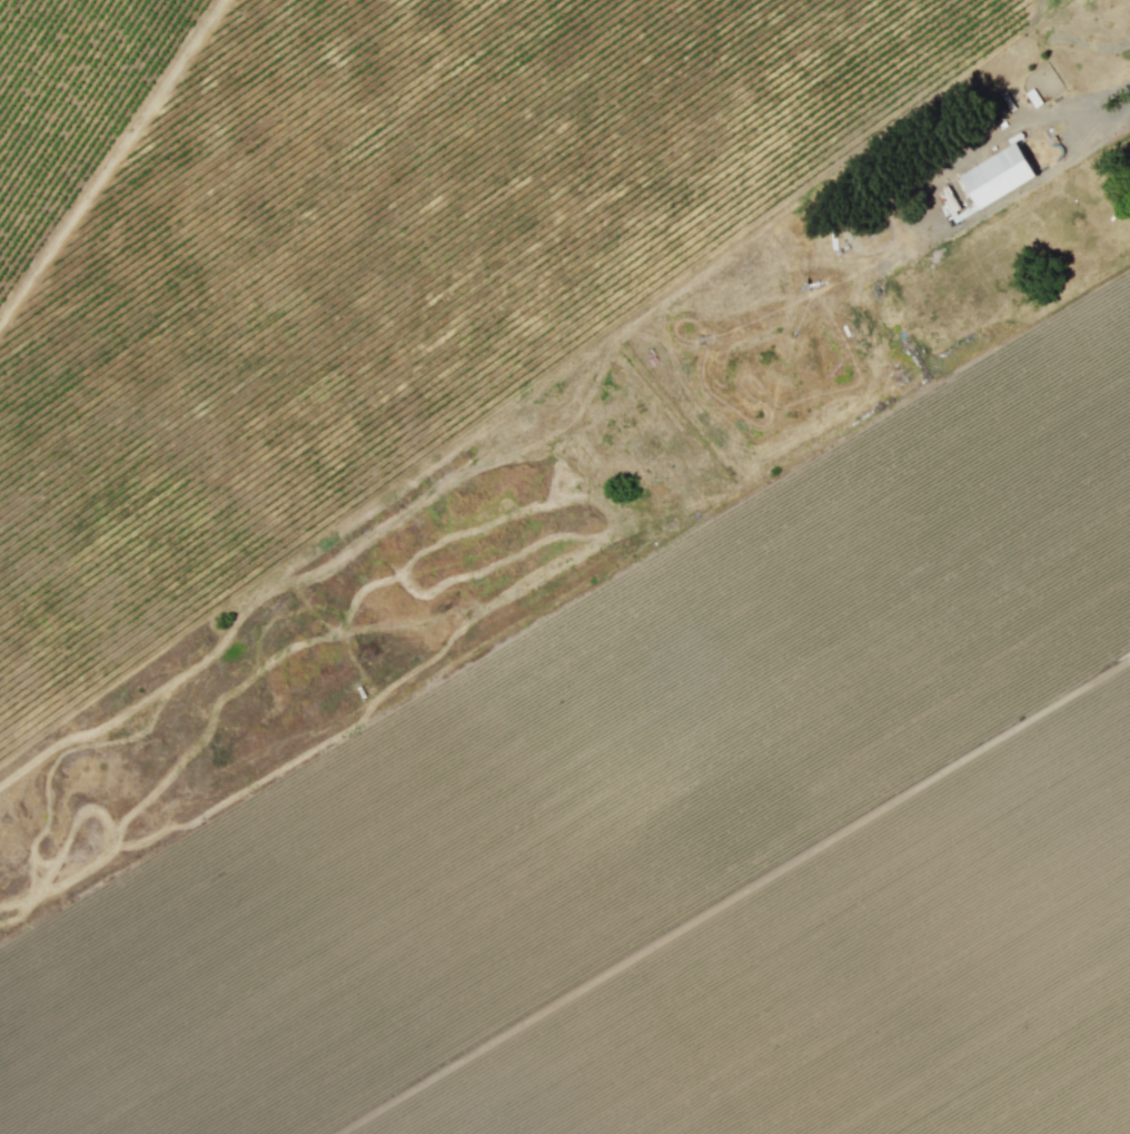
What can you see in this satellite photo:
road: (1082, 108)

